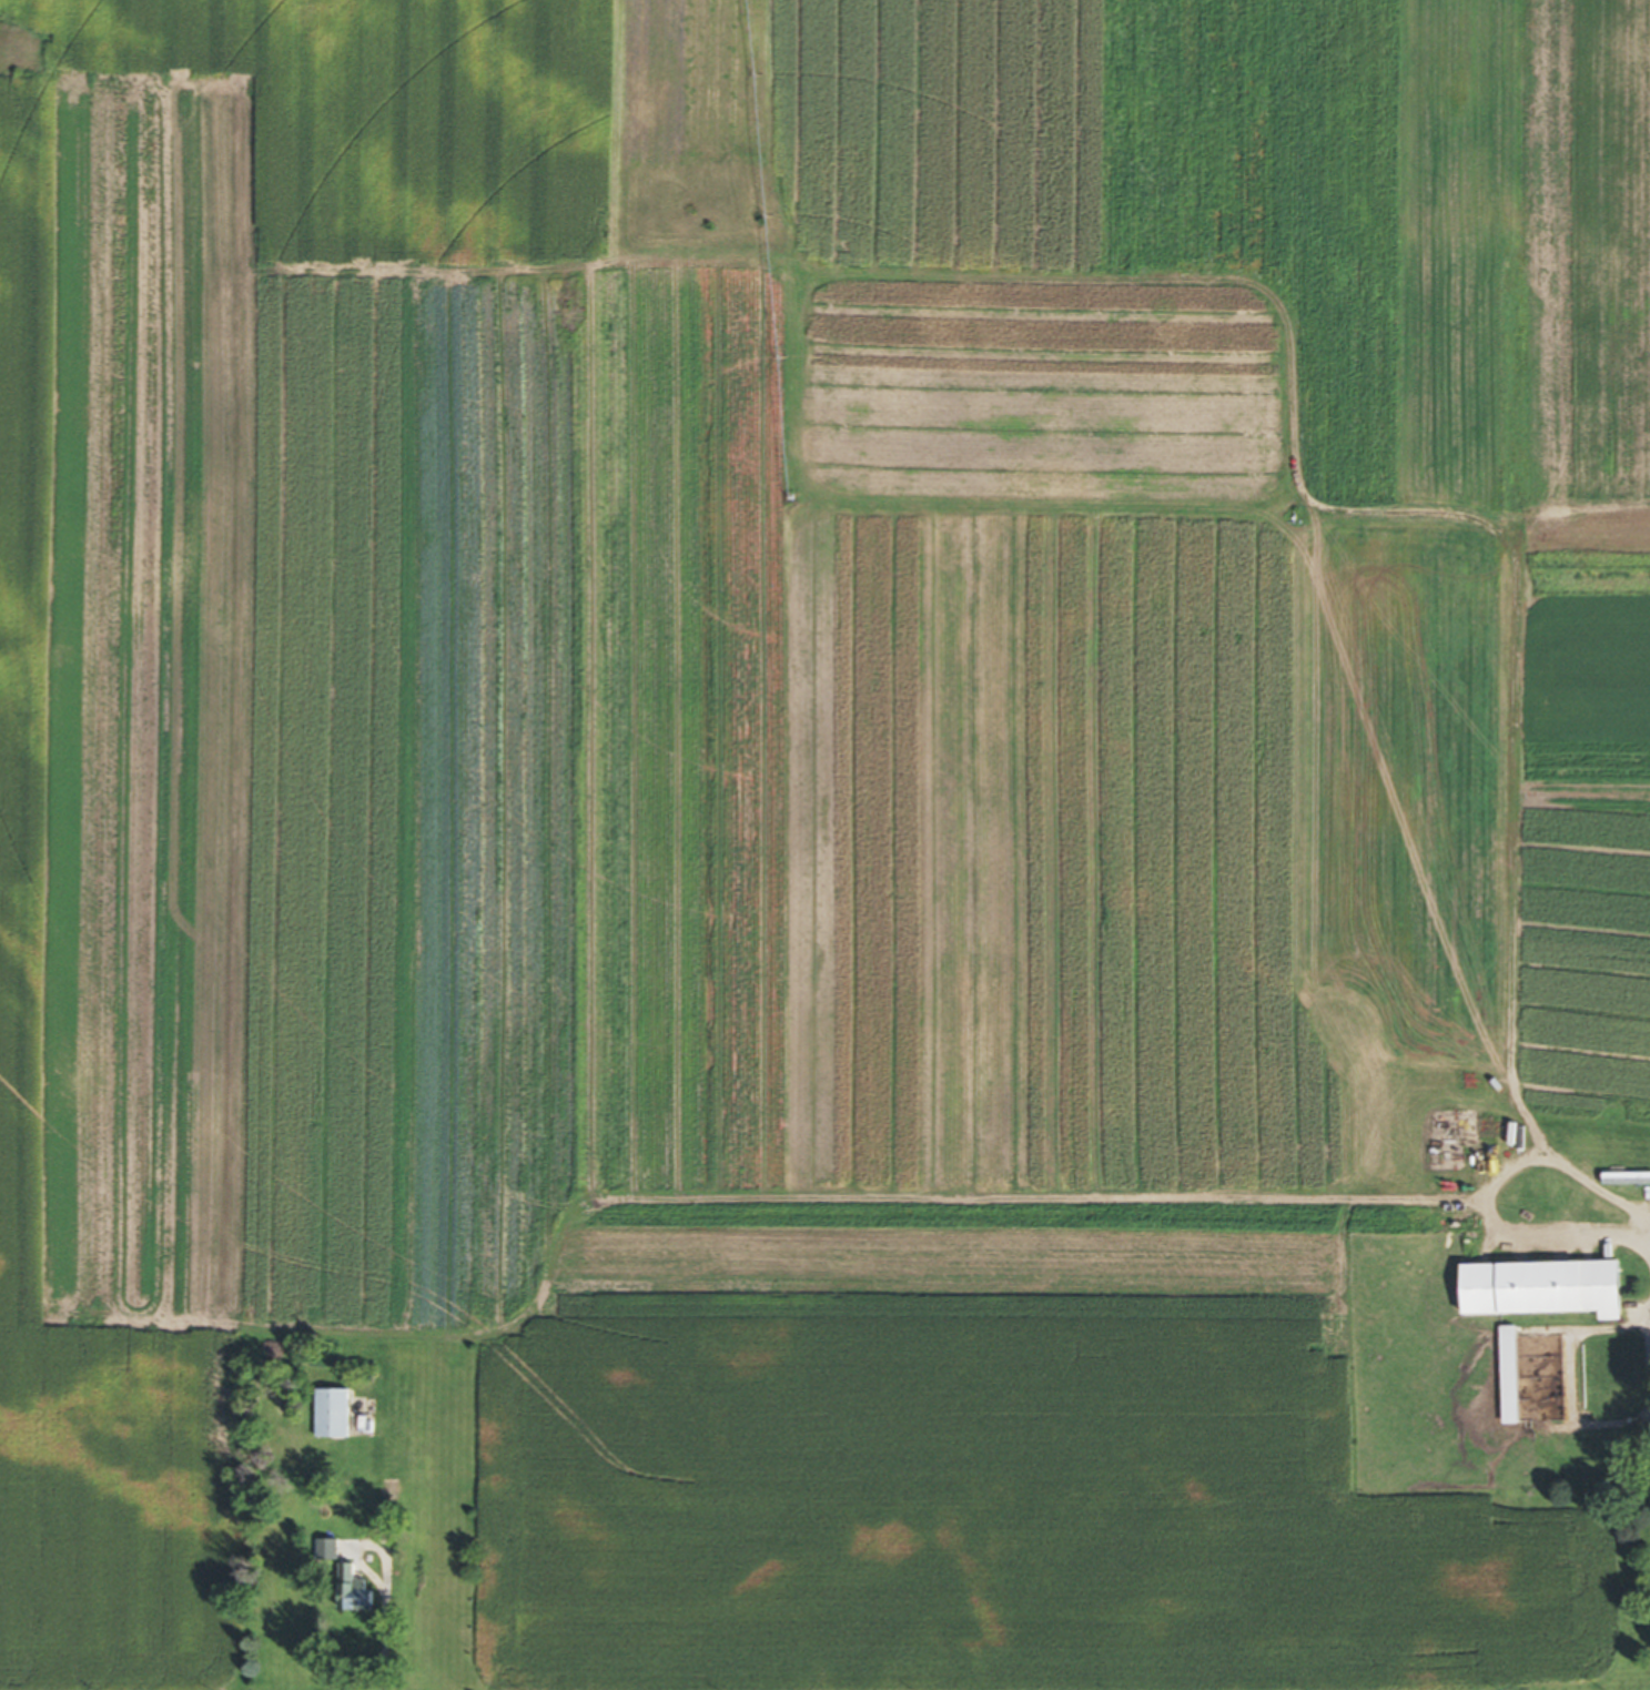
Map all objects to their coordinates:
crop: (800, 783)
building: (1631, 1180)
building: (1555, 1289)
building: (1517, 1376)
building: (340, 1415)
building: (363, 1601)
road: (383, 1637)

